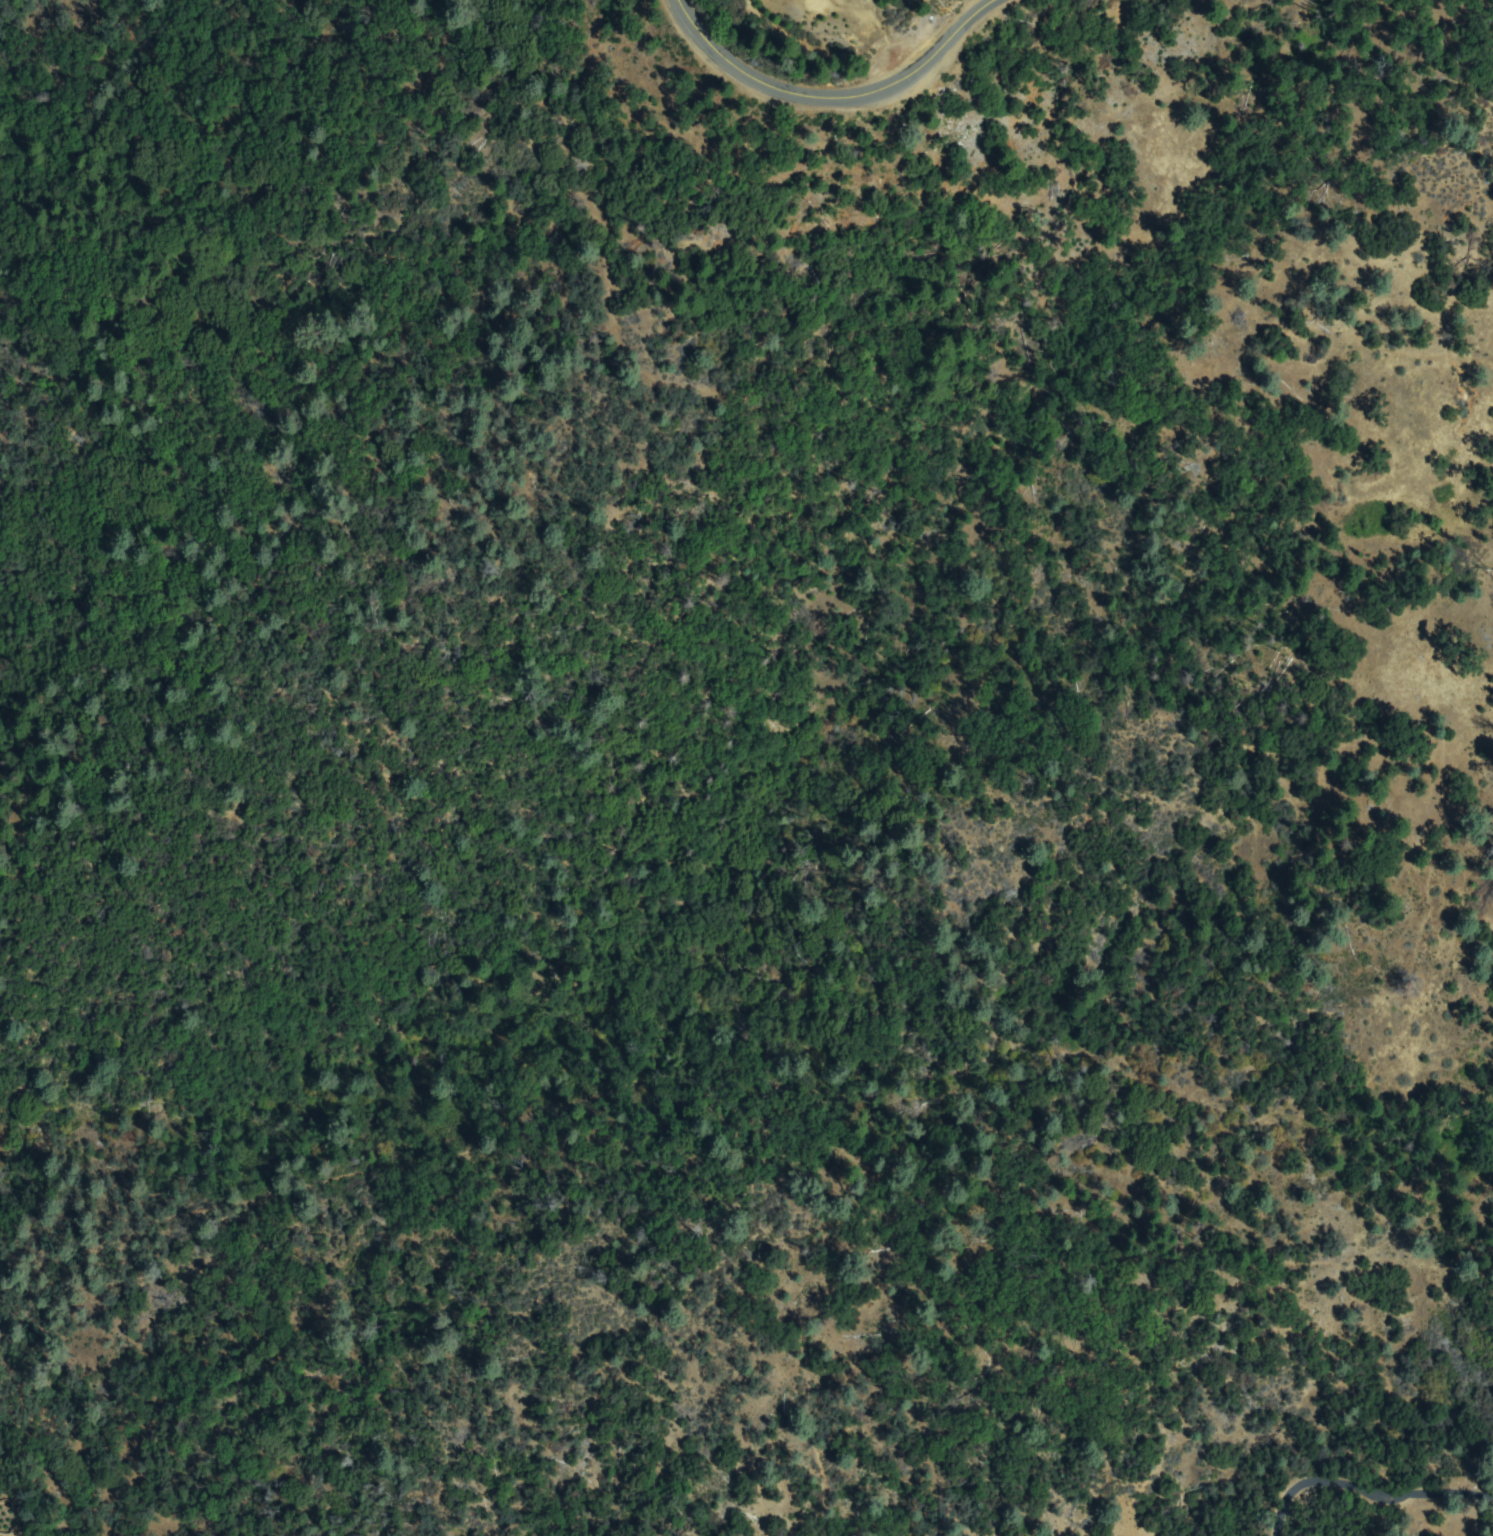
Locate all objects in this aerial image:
road: (830, 100)
road: (809, 1488)
road: (1446, 1498)

